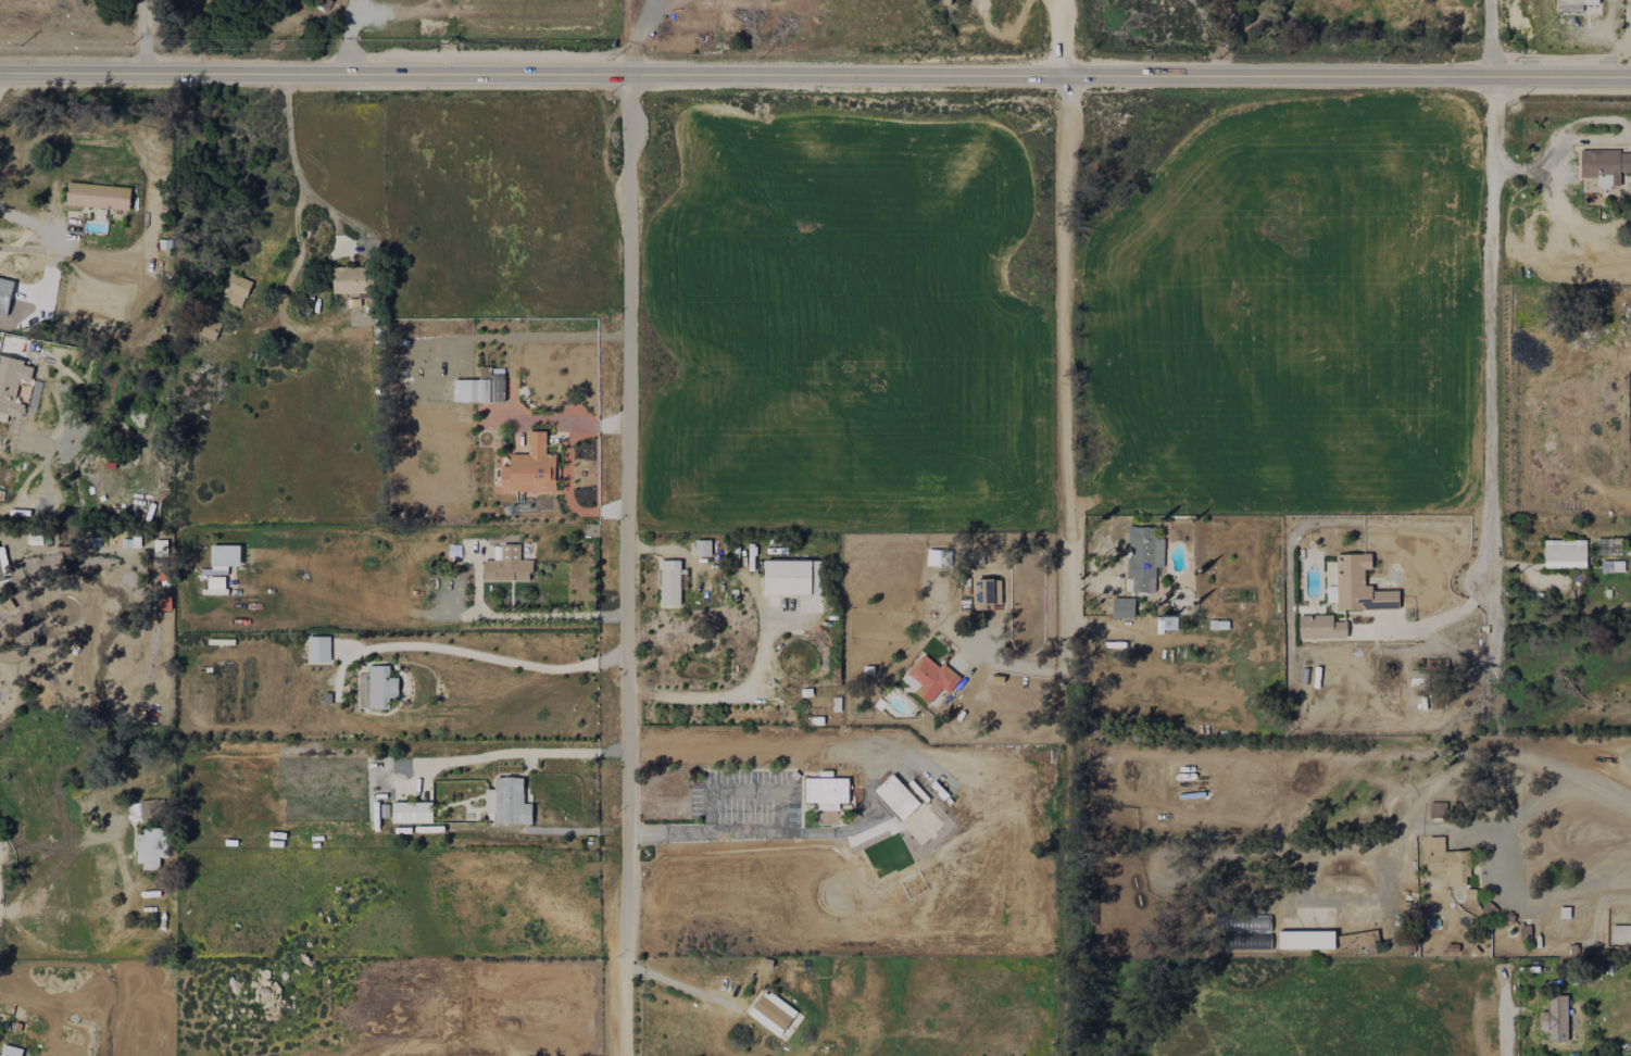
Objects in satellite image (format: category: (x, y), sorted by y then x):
building: (1572, 4)
road: (141, 35)
road: (1492, 36)
road: (1063, 37)
road: (815, 73)
building: (1605, 166)
building: (98, 196)
road: (314, 197)
road: (55, 237)
building: (351, 280)
building: (236, 290)
building: (101, 311)
building: (209, 328)
road: (1490, 329)
road: (1063, 368)
building: (12, 386)
building: (476, 390)
building: (530, 468)
building: (160, 548)
building: (1565, 553)
building: (225, 556)
building: (1144, 558)
road: (628, 564)
building: (507, 565)
building: (1611, 566)
building: (2, 567)
building: (793, 577)
building: (669, 582)
building: (1360, 586)
building: (990, 592)
building: (1122, 607)
road: (519, 616)
road: (1428, 623)
building: (1321, 627)
road: (761, 631)
road: (492, 657)
building: (931, 678)
road: (1490, 678)
road: (511, 750)
building: (827, 792)
building: (899, 796)
road: (1527, 808)
building: (1438, 809)
building: (412, 812)
road: (751, 831)
building: (151, 848)
building: (1447, 862)
road: (51, 869)
building: (1620, 934)
building: (1306, 939)
road: (681, 985)
building: (773, 1013)
building: (1555, 1019)
road: (1504, 1029)
building: (12, 1051)

